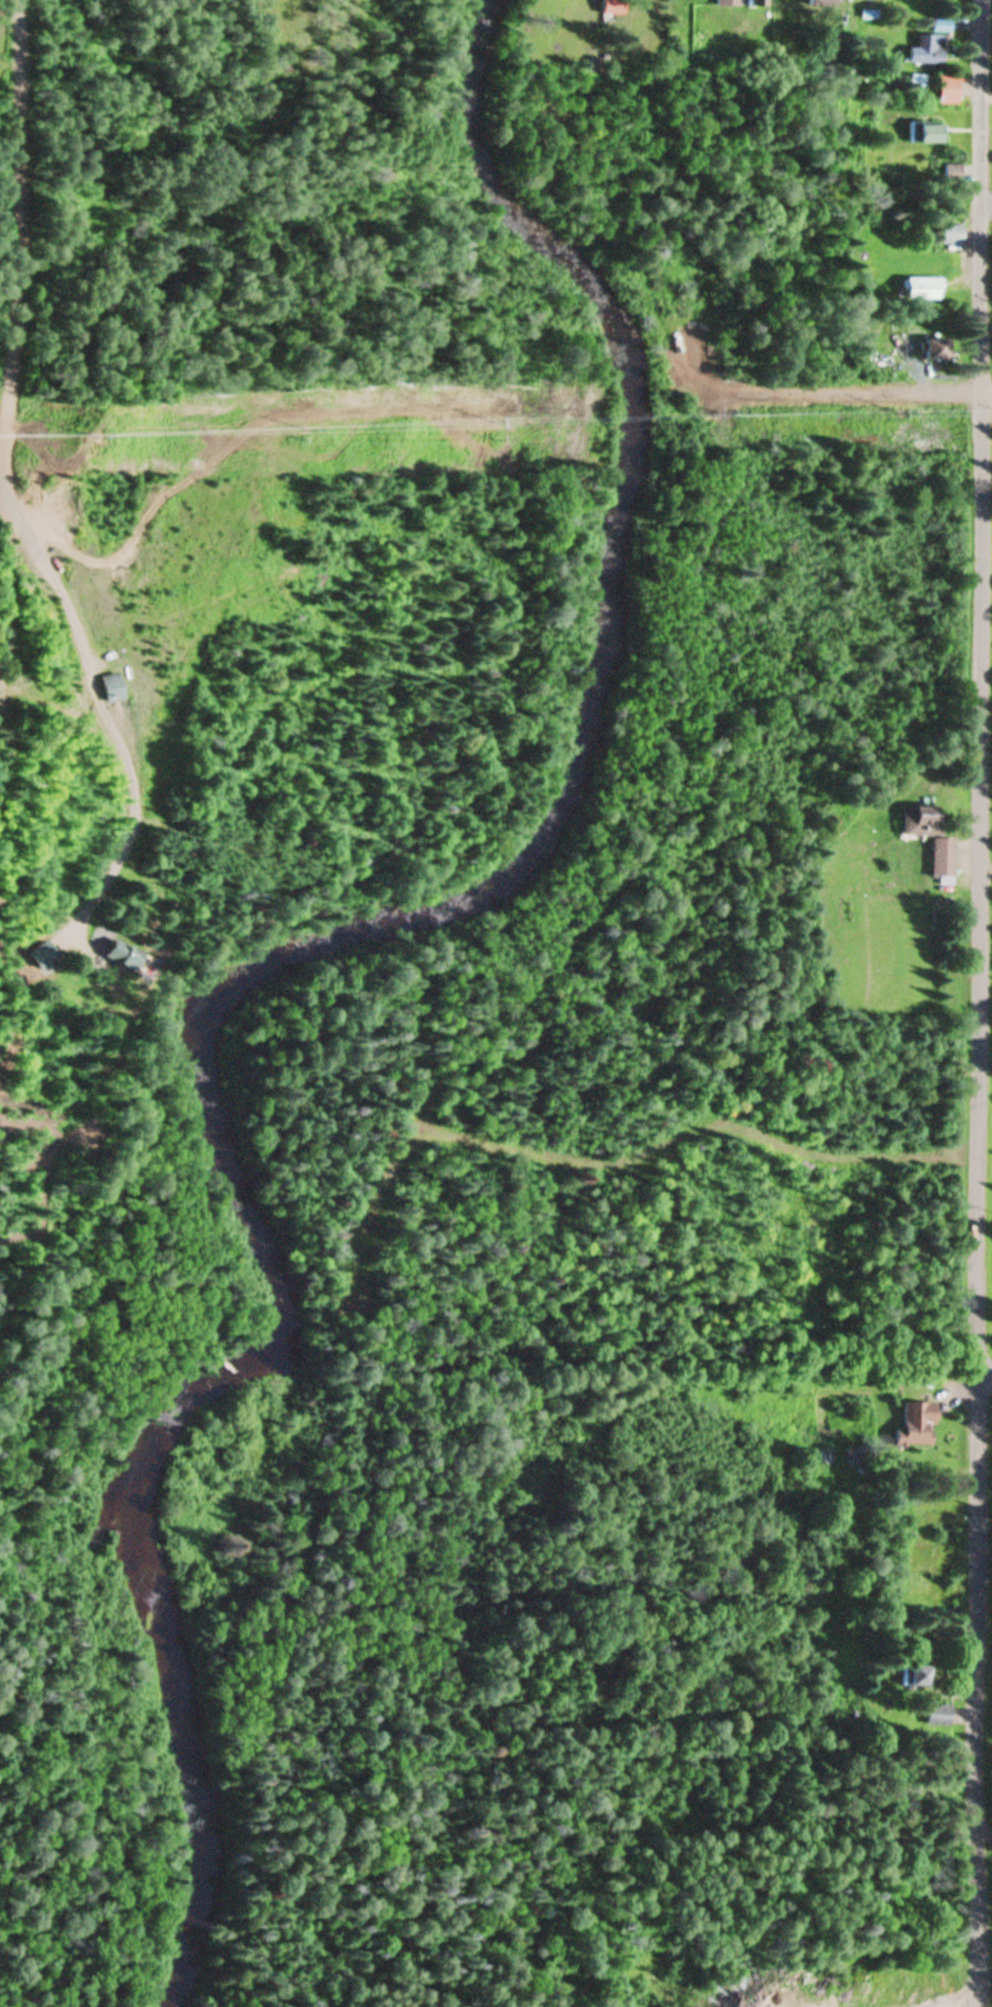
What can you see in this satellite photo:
building: (726, 2)
building: (754, 2)
building: (818, 2)
building: (610, 7)
building: (939, 25)
building: (928, 49)
building: (944, 89)
building: (925, 133)
building: (951, 173)
road: (986, 204)
building: (950, 235)
building: (921, 288)
building: (932, 349)
road: (853, 397)
building: (107, 686)
road: (978, 687)
building: (919, 820)
building: (939, 856)
river: (403, 940)
building: (38, 953)
building: (113, 953)
road: (983, 1373)
building: (912, 1424)
building: (915, 1674)
road: (973, 1690)
building: (935, 1713)
river: (185, 1906)

